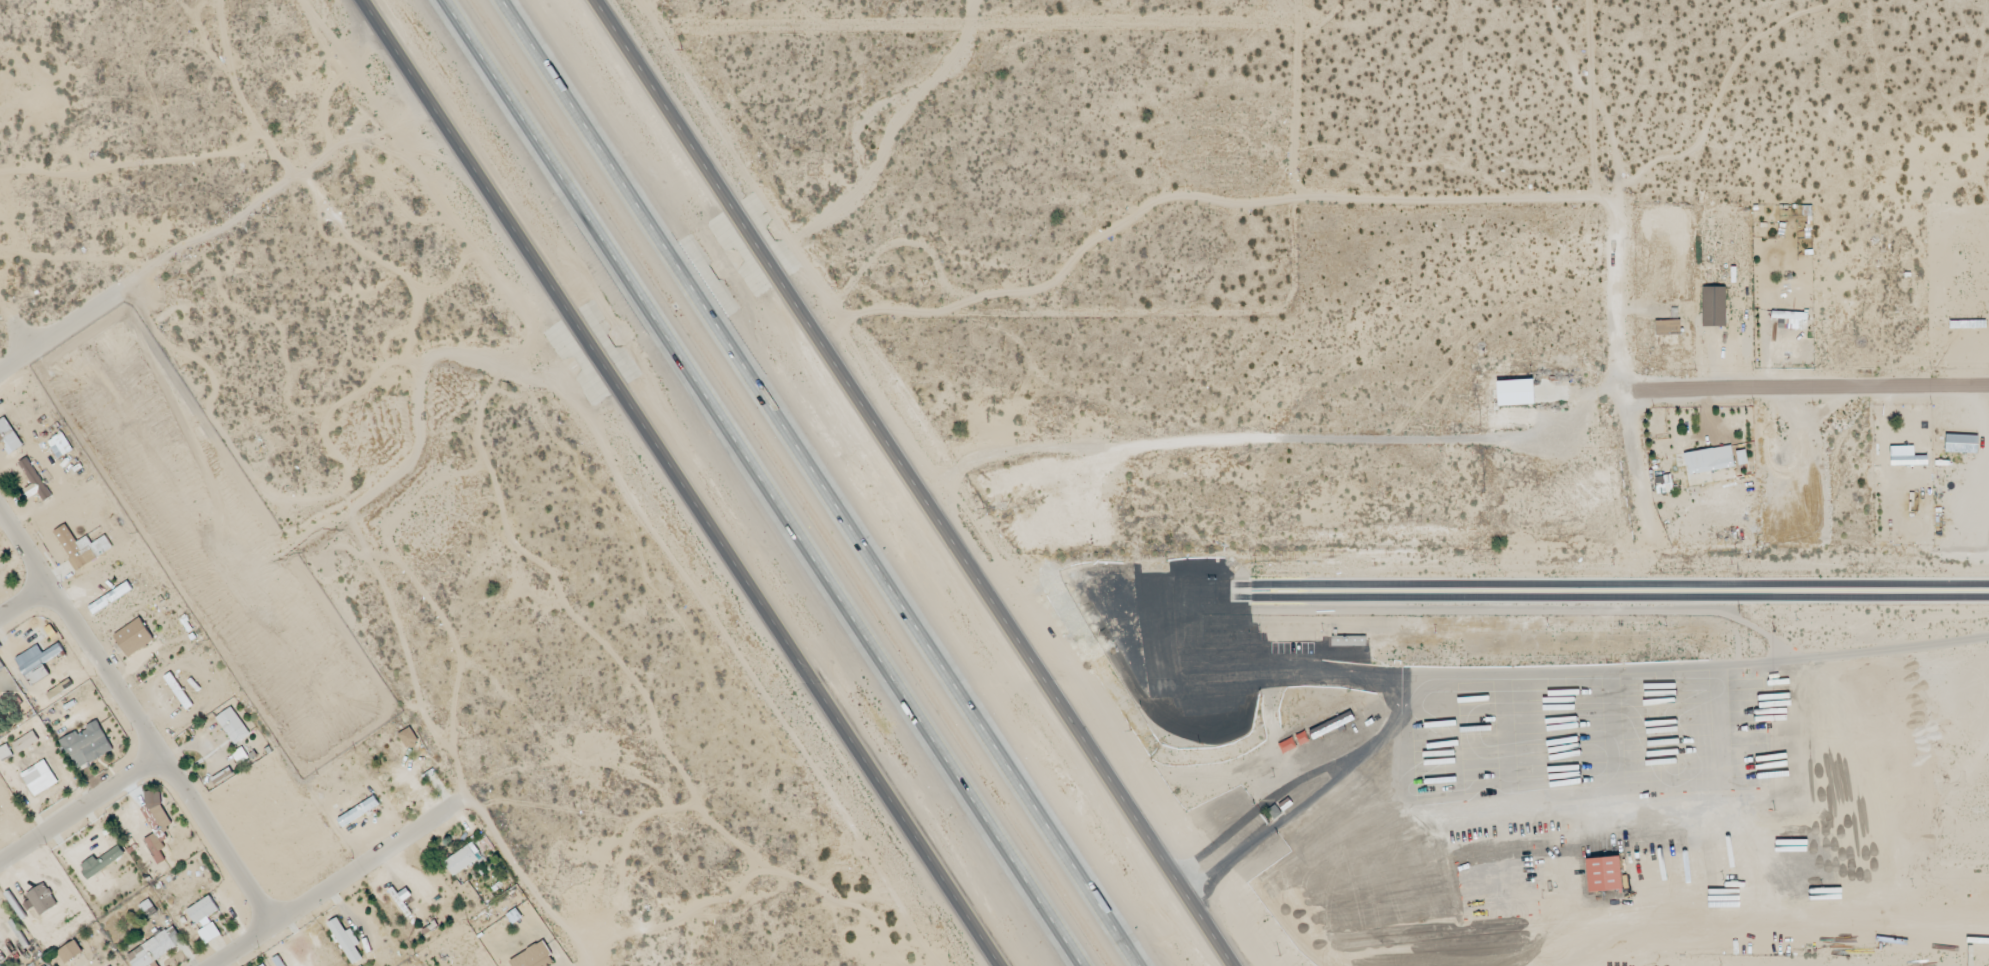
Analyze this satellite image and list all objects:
road: (723, 42)
building: (1709, 305)
road: (57, 316)
road: (14, 322)
building: (1667, 327)
road: (1624, 368)
road: (1807, 387)
building: (1515, 393)
building: (8, 437)
road: (1988, 437)
building: (60, 446)
building: (1708, 460)
building: (35, 480)
road: (914, 482)
road: (681, 483)
road: (762, 483)
road: (817, 483)
building: (1663, 484)
building: (81, 548)
road: (19, 584)
building: (133, 638)
building: (36, 663)
road: (128, 710)
building: (232, 726)
building: (408, 738)
building: (25, 742)
building: (86, 745)
building: (4, 752)
building: (240, 756)
building: (39, 778)
road: (74, 791)
building: (357, 812)
building: (156, 814)
building: (155, 848)
building: (462, 859)
building: (101, 862)
road: (317, 875)
building: (42, 900)
building: (147, 909)
building: (202, 910)
building: (209, 933)
building: (346, 941)
building: (155, 948)
building: (70, 952)
building: (534, 957)
building: (0, 962)
building: (261, 965)

